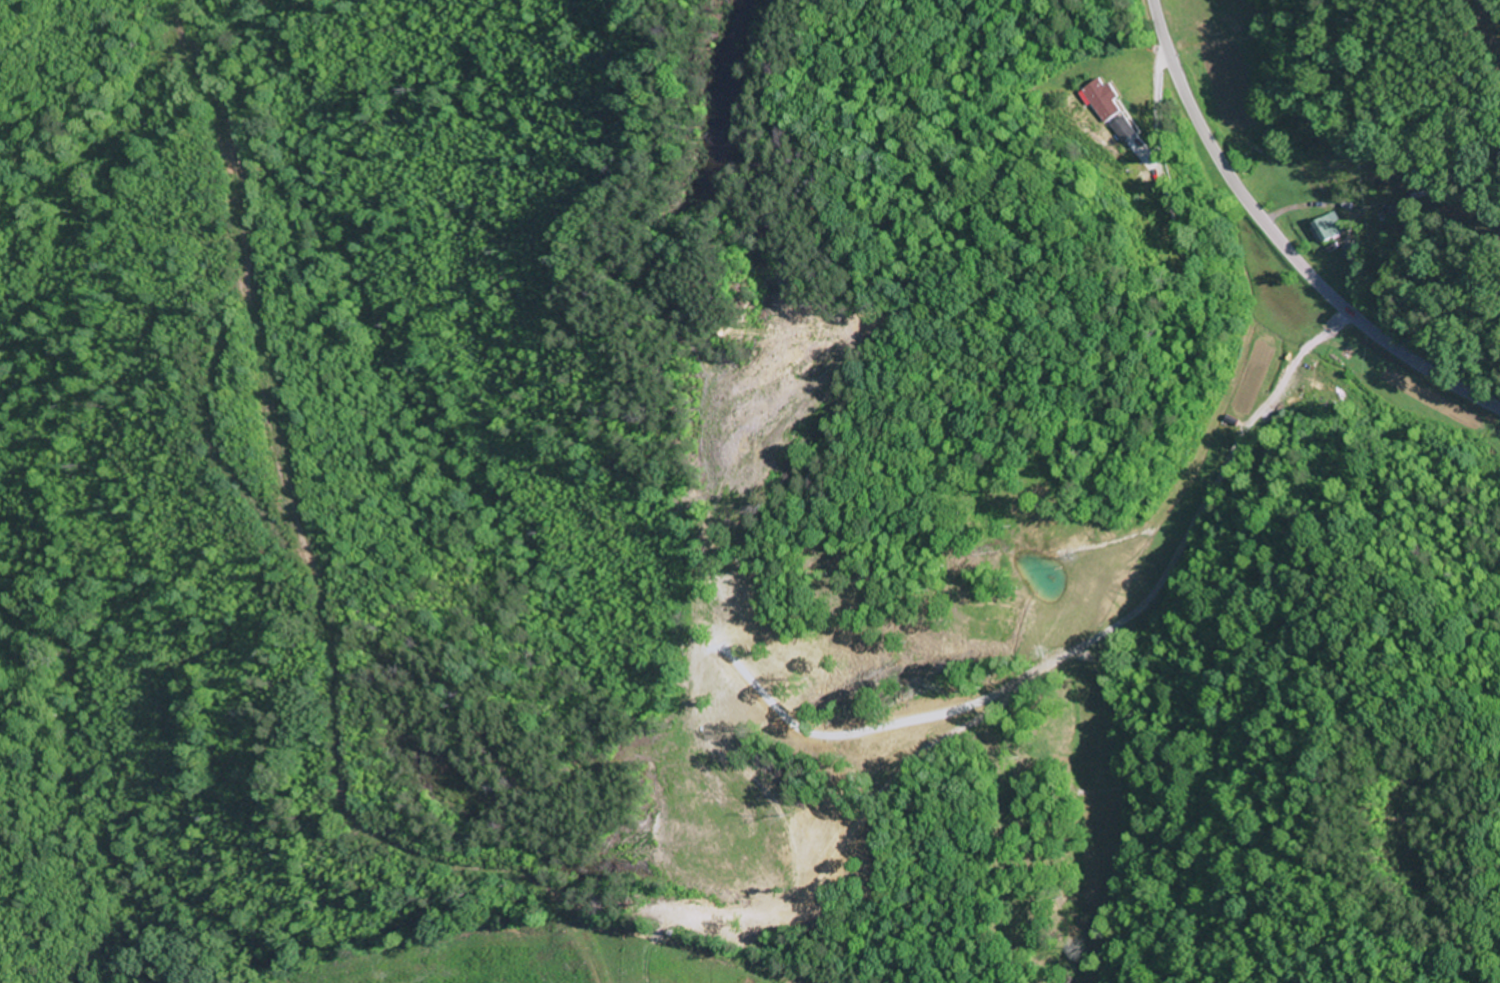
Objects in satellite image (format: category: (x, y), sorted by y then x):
building: (1115, 111)
building: (1329, 227)
road: (1282, 242)
building: (1331, 388)

